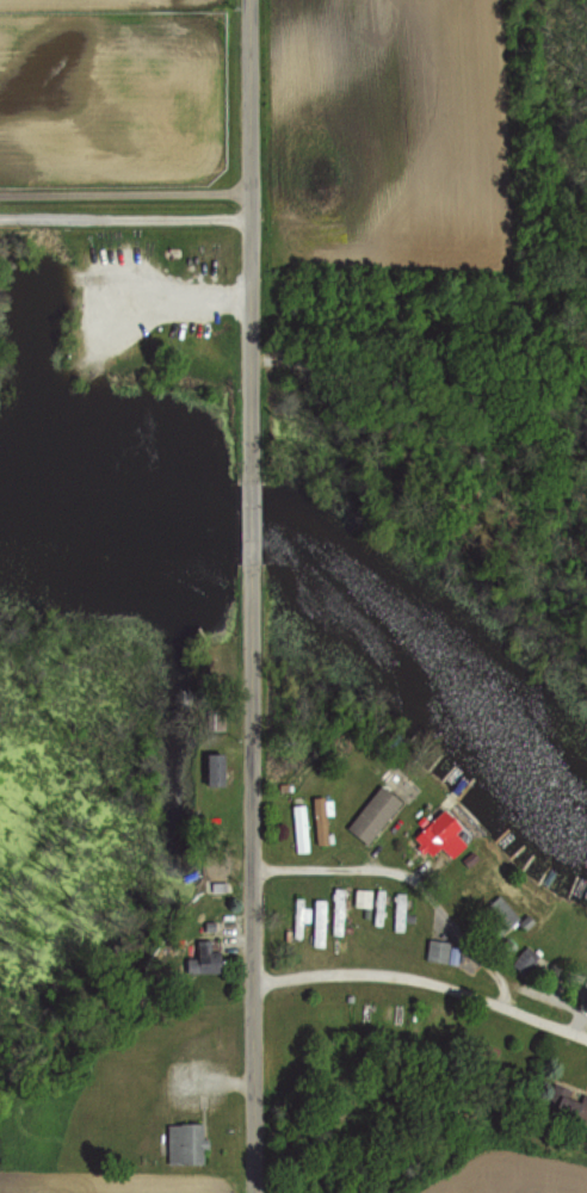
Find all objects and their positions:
road: (123, 193)
road: (248, 210)
road: (124, 221)
road: (252, 532)
building: (220, 769)
building: (377, 815)
building: (323, 821)
building: (302, 828)
building: (445, 835)
road: (413, 879)
building: (382, 907)
building: (340, 911)
building: (402, 911)
building: (501, 915)
building: (301, 916)
road: (253, 917)
building: (322, 921)
building: (440, 951)
building: (206, 957)
building: (527, 959)
road: (425, 979)
building: (568, 1104)
building: (186, 1144)

